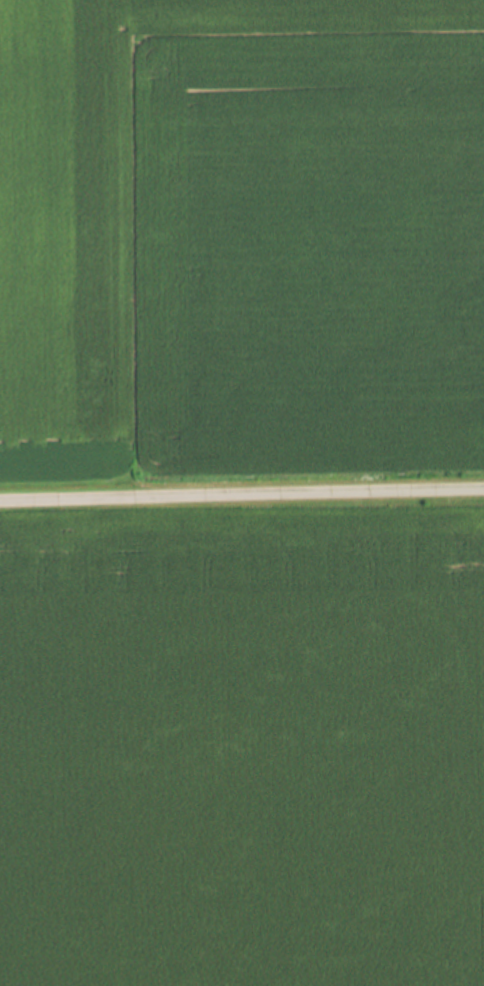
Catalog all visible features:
road: (242, 496)

